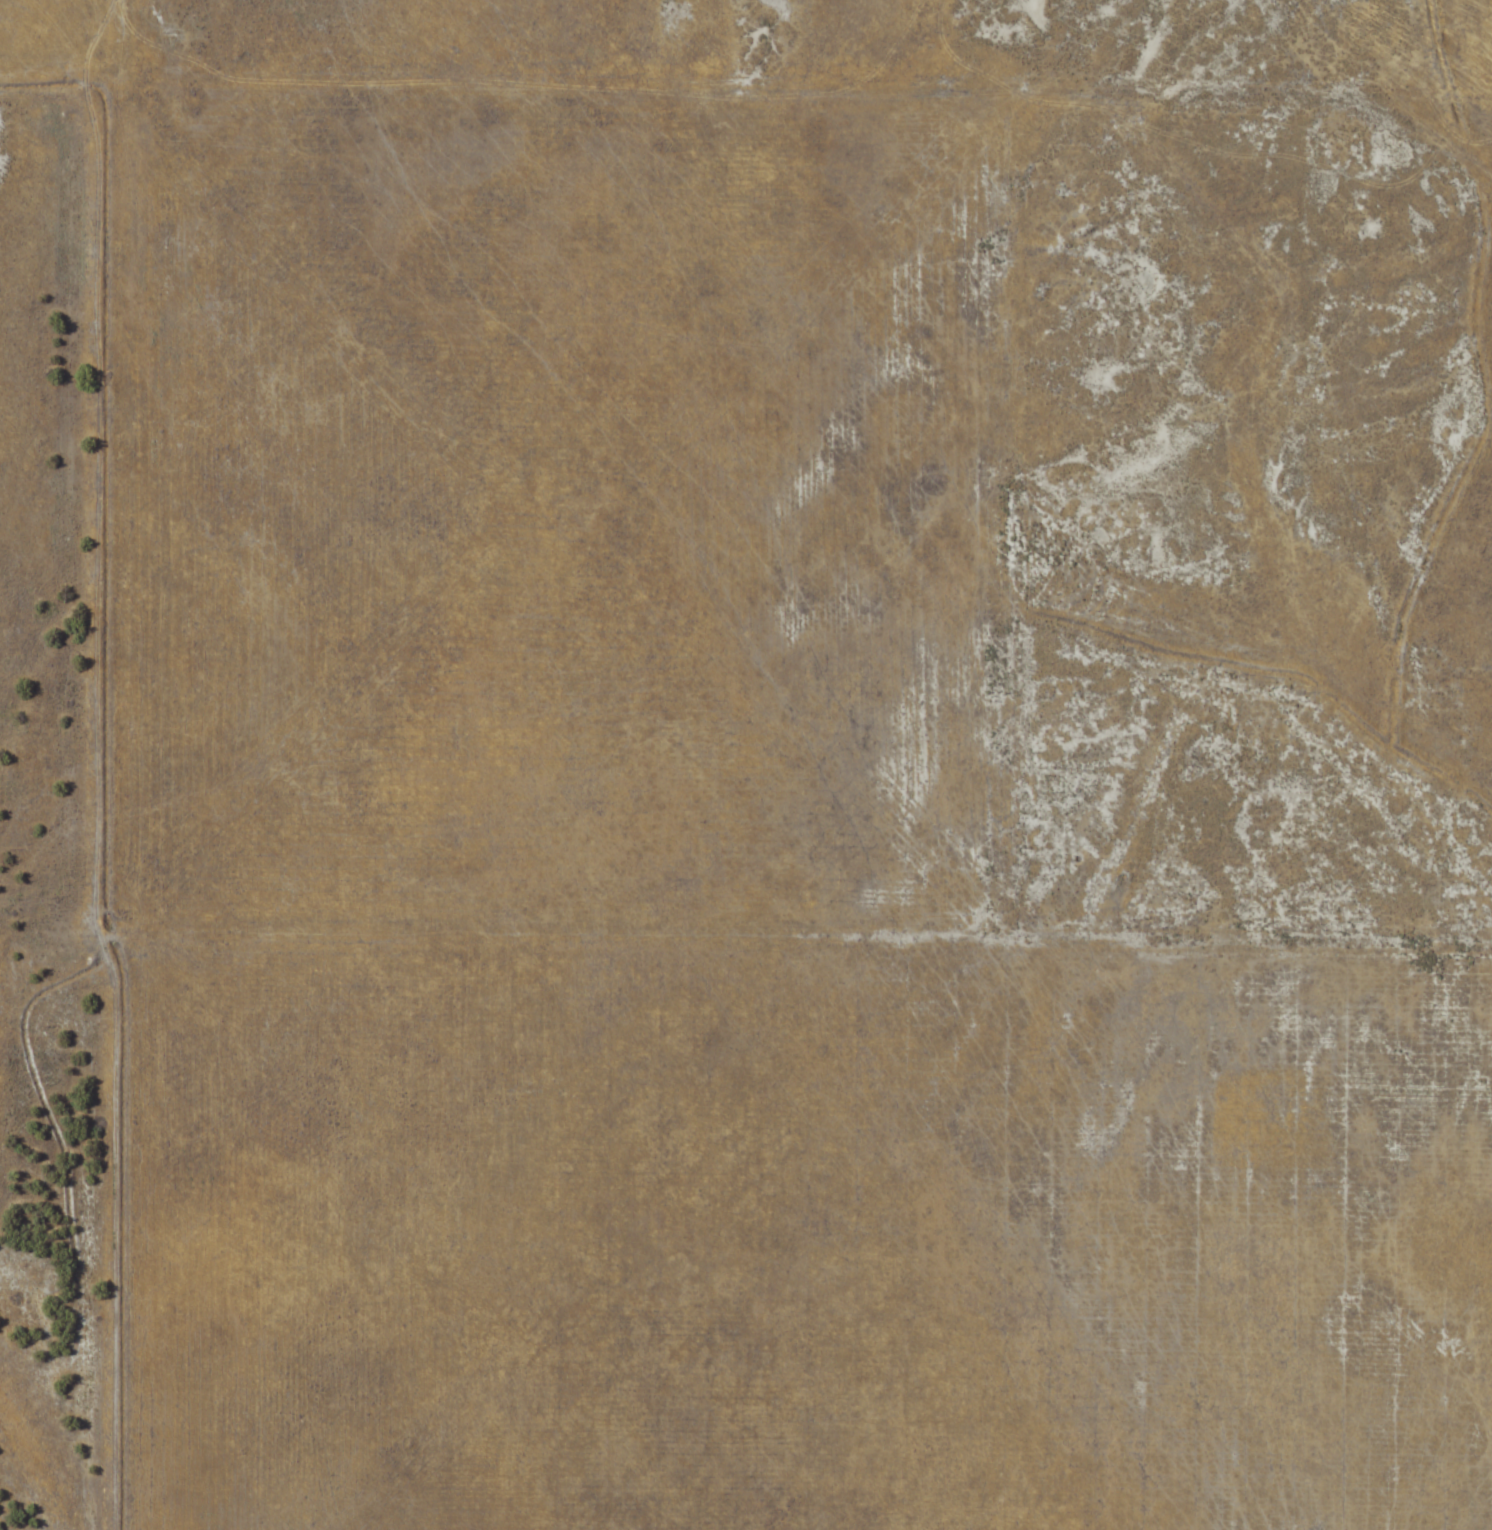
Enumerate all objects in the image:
road: (197, 547)
road: (56, 1453)

